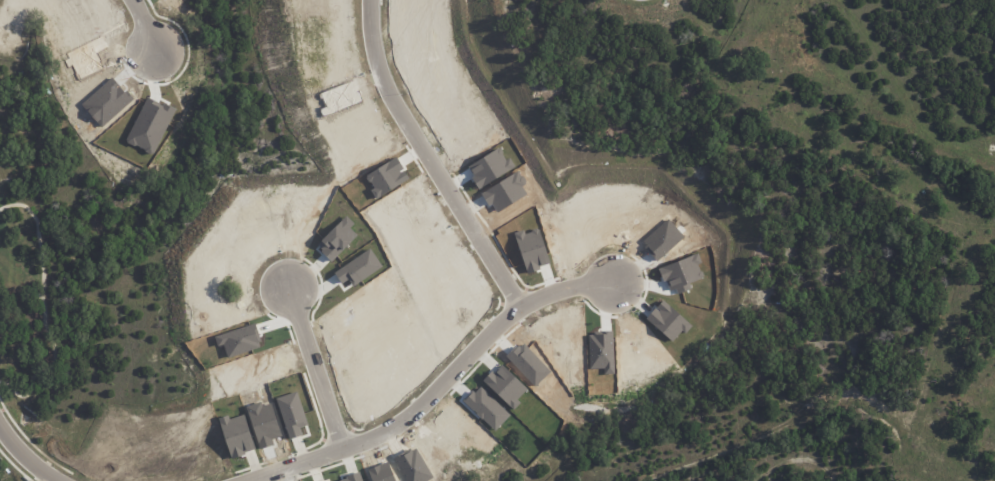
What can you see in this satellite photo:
road: (143, 23)
road: (435, 160)
road: (567, 292)
park: (26, 309)
road: (315, 367)
road: (398, 420)
road: (24, 454)

